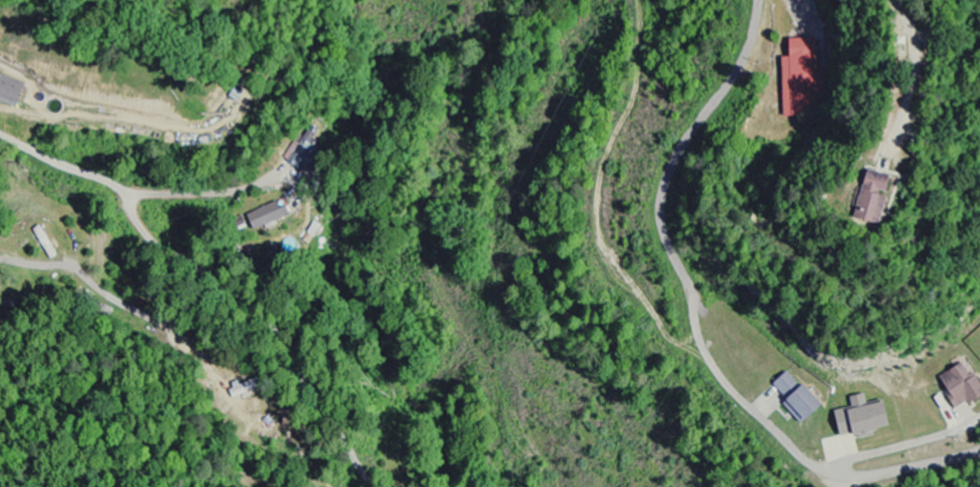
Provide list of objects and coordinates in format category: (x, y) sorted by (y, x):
building: (798, 78)
building: (10, 90)
building: (847, 192)
building: (266, 216)
road: (153, 243)
road: (299, 381)
building: (959, 386)
building: (241, 389)
building: (794, 397)
building: (858, 417)
road: (940, 462)

